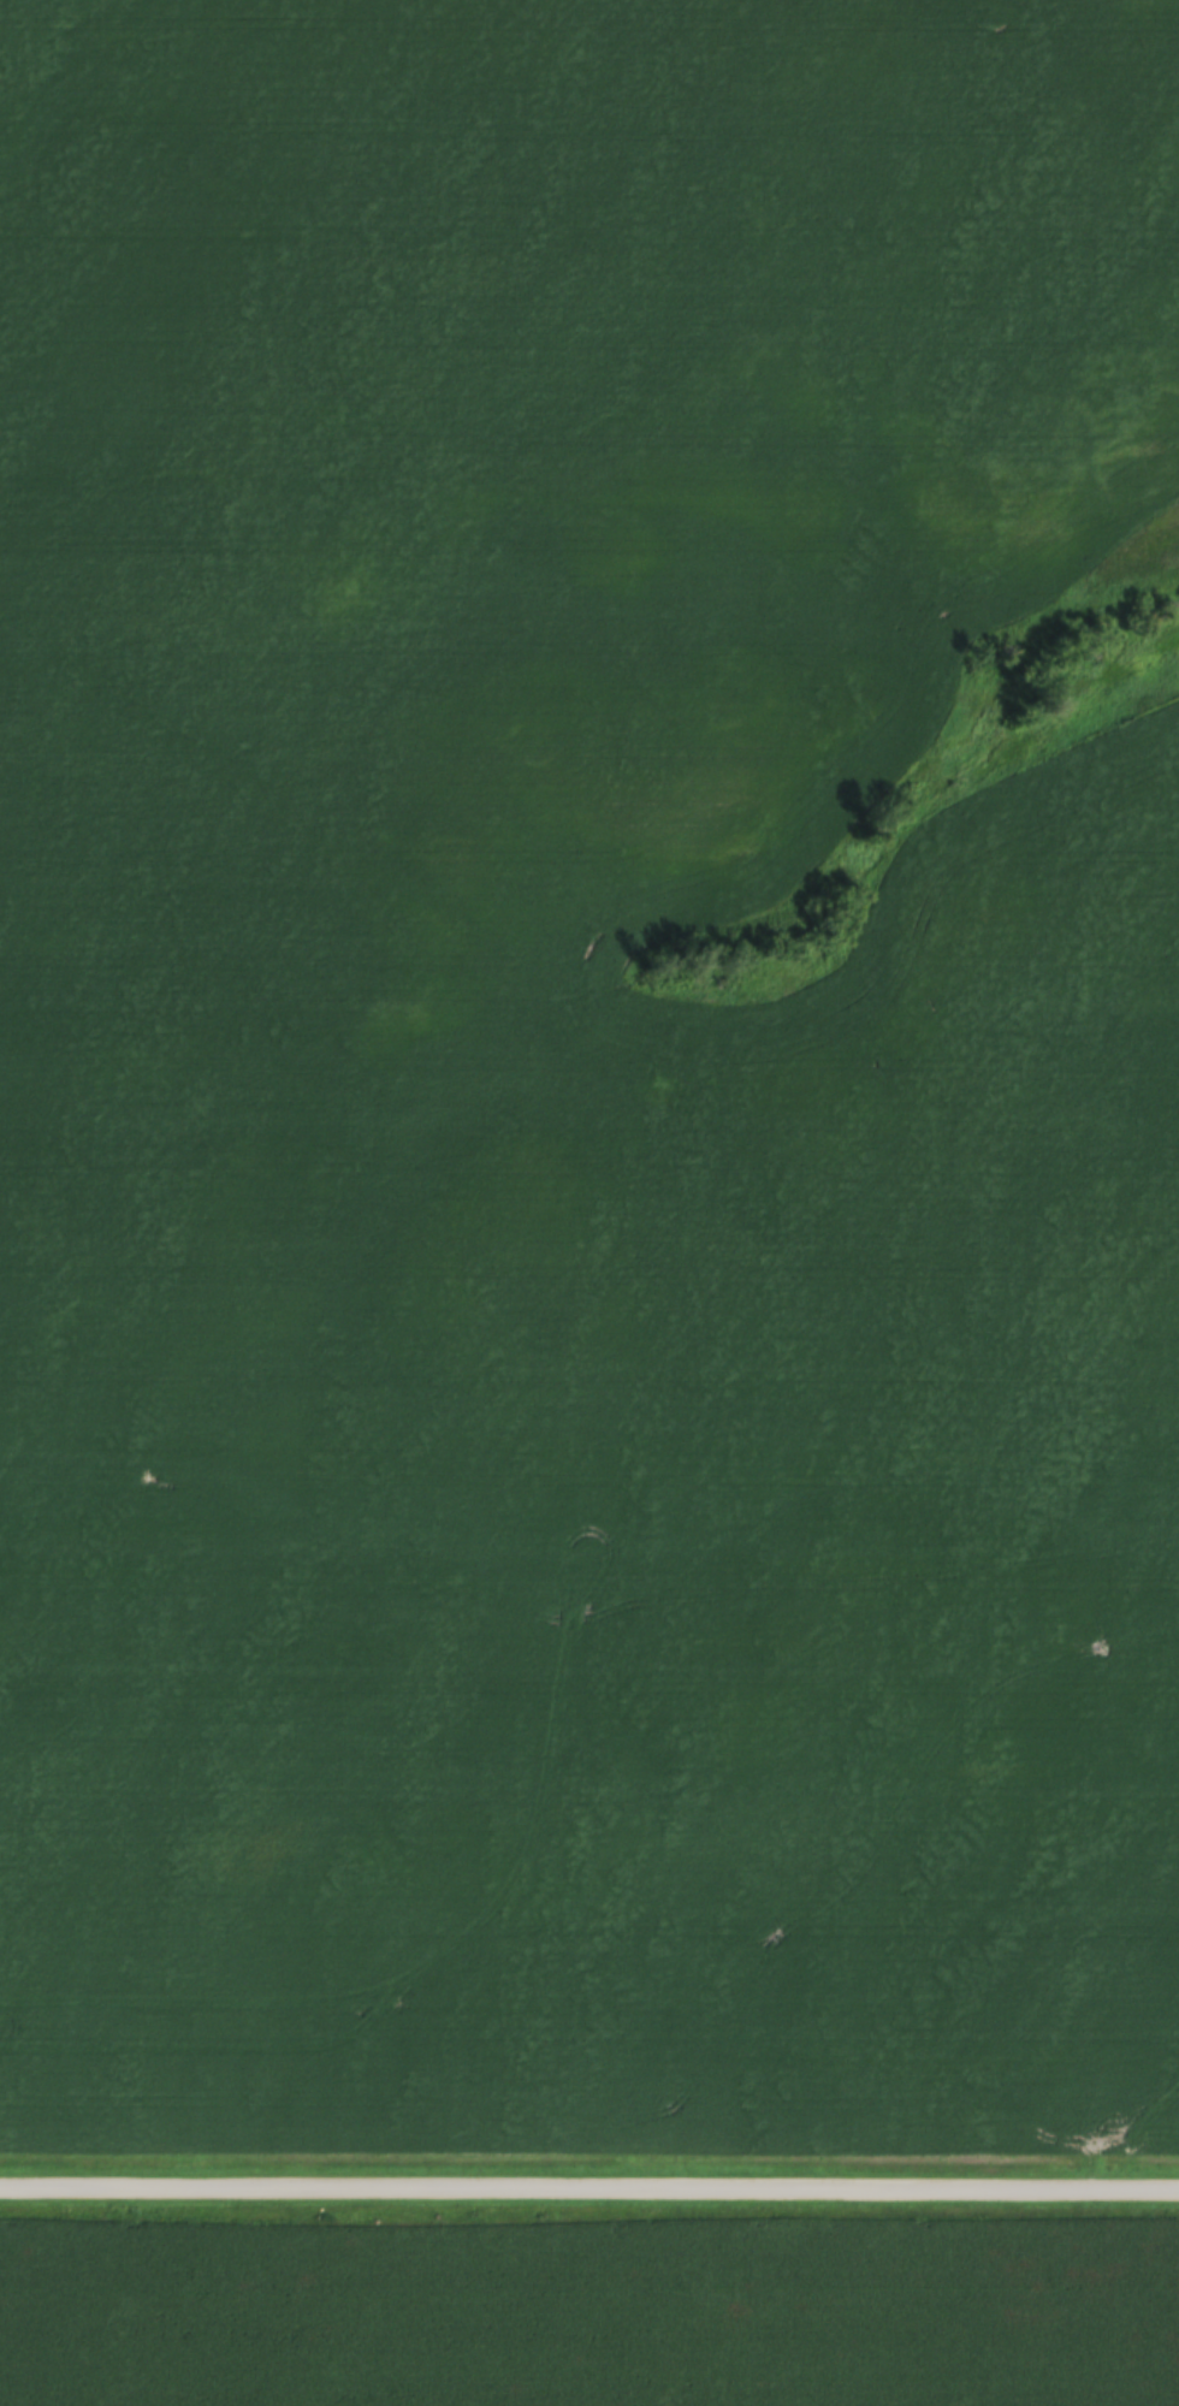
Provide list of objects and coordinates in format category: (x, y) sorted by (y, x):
road: (589, 2182)

